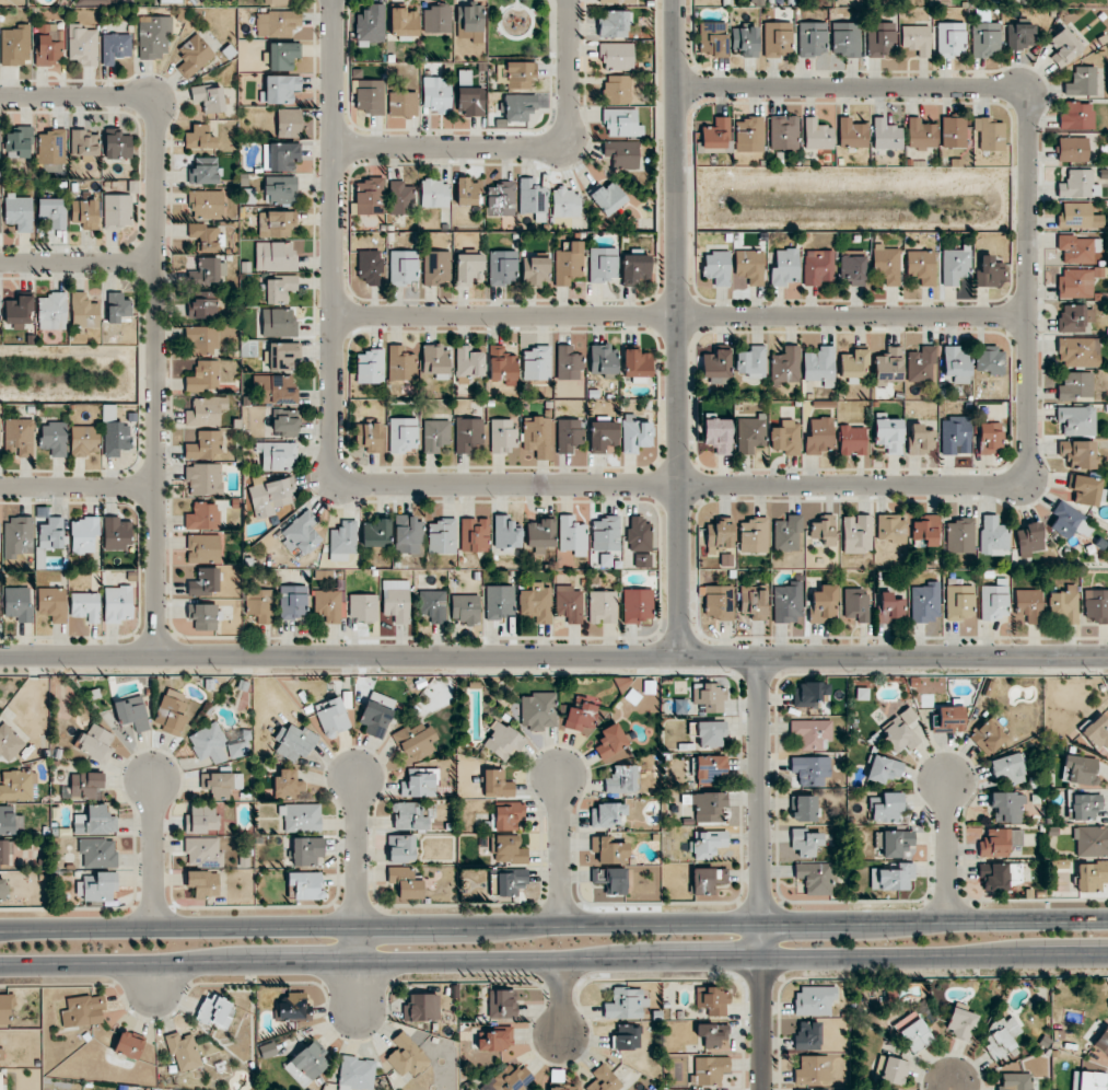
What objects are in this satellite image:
building: (170, 1)
building: (277, 1)
building: (615, 1)
road: (517, 2)
road: (504, 9)
building: (469, 18)
building: (436, 19)
building: (401, 21)
building: (277, 23)
building: (614, 23)
building: (371, 25)
park: (522, 27)
building: (1020, 35)
building: (154, 37)
building: (712, 38)
building: (812, 38)
building: (845, 38)
building: (880, 38)
building: (777, 39)
building: (915, 39)
building: (950, 39)
building: (985, 39)
building: (745, 40)
building: (49, 44)
building: (15, 45)
building: (82, 46)
building: (1064, 46)
building: (115, 47)
building: (194, 56)
building: (282, 56)
building: (616, 56)
building: (520, 74)
building: (1082, 81)
building: (280, 89)
building: (617, 89)
building: (435, 94)
road: (78, 95)
building: (370, 96)
building: (209, 97)
building: (469, 102)
building: (401, 103)
building: (517, 106)
building: (1076, 116)
building: (289, 123)
building: (621, 123)
building: (783, 131)
building: (953, 132)
building: (715, 134)
building: (748, 134)
building: (851, 134)
building: (920, 134)
building: (989, 134)
building: (817, 135)
building: (886, 135)
building: (199, 138)
building: (20, 141)
building: (84, 144)
building: (117, 144)
road: (524, 147)
building: (1072, 149)
building: (51, 150)
building: (622, 153)
building: (280, 155)
building: (203, 171)
building: (1077, 184)
building: (280, 190)
building: (464, 192)
building: (433, 193)
building: (369, 196)
building: (532, 196)
building: (607, 197)
building: (401, 198)
building: (500, 199)
building: (565, 202)
building: (207, 204)
building: (53, 211)
building: (117, 211)
building: (19, 212)
building: (85, 213)
building: (1077, 216)
building: (276, 223)
building: (206, 236)
building: (1075, 248)
building: (276, 256)
road: (78, 262)
building: (568, 263)
building: (602, 264)
building: (886, 264)
building: (955, 265)
building: (369, 266)
building: (749, 266)
building: (852, 266)
building: (921, 266)
building: (403, 267)
building: (435, 267)
building: (469, 267)
building: (502, 267)
building: (716, 267)
building: (784, 267)
building: (817, 267)
building: (634, 268)
building: (534, 270)
building: (208, 271)
building: (989, 272)
building: (1076, 282)
road: (1027, 283)
building: (279, 289)
building: (203, 305)
building: (117, 308)
building: (19, 311)
building: (53, 311)
building: (84, 311)
road: (679, 315)
building: (1074, 317)
building: (279, 323)
road: (678, 327)
building: (202, 339)
building: (1078, 351)
building: (281, 356)
building: (602, 359)
building: (434, 360)
building: (990, 360)
building: (751, 361)
building: (567, 362)
building: (399, 363)
building: (467, 363)
building: (536, 363)
building: (956, 363)
building: (501, 364)
building: (785, 364)
building: (853, 364)
building: (921, 364)
building: (635, 366)
building: (715, 366)
building: (820, 366)
building: (370, 367)
building: (888, 367)
road: (155, 375)
building: (203, 376)
building: (1075, 385)
building: (282, 390)
building: (206, 411)
road: (333, 416)
building: (1076, 420)
building: (285, 421)
building: (114, 433)
building: (466, 433)
building: (634, 433)
building: (749, 433)
building: (403, 434)
building: (434, 434)
building: (502, 434)
building: (568, 434)
building: (718, 434)
building: (888, 434)
building: (955, 434)
building: (603, 436)
building: (819, 436)
building: (19, 437)
building: (368, 437)
building: (537, 437)
building: (989, 437)
building: (54, 438)
building: (785, 438)
building: (920, 439)
building: (83, 440)
building: (851, 440)
building: (205, 445)
building: (1078, 454)
building: (277, 455)
building: (205, 479)
road: (78, 487)
building: (1083, 489)
building: (270, 496)
building: (202, 517)
building: (1069, 521)
building: (891, 529)
building: (823, 530)
building: (926, 531)
building: (53, 532)
building: (374, 532)
building: (301, 533)
building: (539, 533)
building: (605, 533)
building: (786, 533)
building: (856, 533)
building: (116, 534)
building: (407, 534)
building: (474, 534)
building: (84, 535)
building: (572, 535)
building: (719, 535)
building: (753, 535)
building: (959, 535)
building: (18, 536)
building: (441, 536)
building: (993, 536)
building: (342, 541)
building: (639, 541)
building: (203, 548)
building: (605, 560)
building: (205, 581)
building: (395, 600)
building: (499, 601)
building: (754, 601)
building: (994, 601)
building: (293, 602)
building: (719, 602)
building: (960, 602)
building: (536, 603)
building: (569, 603)
building: (788, 603)
building: (823, 603)
building: (925, 603)
building: (18, 604)
building: (53, 604)
building: (117, 604)
building: (1063, 604)
building: (259, 605)
building: (328, 605)
building: (433, 605)
building: (637, 605)
building: (856, 605)
building: (1029, 605)
building: (1096, 605)
building: (85, 606)
building: (602, 606)
building: (362, 607)
building: (889, 607)
building: (465, 608)
building: (202, 616)
road: (553, 656)
building: (809, 694)
building: (710, 698)
building: (171, 711)
building: (538, 711)
building: (131, 712)
building: (376, 714)
building: (579, 716)
building: (333, 717)
building: (949, 718)
building: (900, 731)
building: (1097, 731)
building: (710, 733)
building: (812, 733)
building: (987, 737)
building: (502, 740)
building: (415, 741)
building: (610, 741)
building: (293, 742)
building: (95, 743)
building: (209, 744)
building: (710, 768)
building: (883, 768)
building: (1006, 769)
building: (1080, 769)
building: (810, 770)
building: (622, 779)
building: (419, 782)
building: (85, 784)
building: (495, 784)
building: (217, 785)
building: (288, 785)
building: (1085, 805)
building: (709, 807)
building: (1006, 807)
building: (804, 808)
building: (887, 808)
building: (607, 814)
building: (408, 816)
building: (506, 816)
building: (301, 817)
building: (7, 820)
building: (201, 820)
building: (95, 821)
building: (1090, 840)
building: (894, 842)
building: (999, 842)
building: (707, 843)
building: (805, 843)
building: (400, 848)
road: (562, 848)
building: (505, 849)
building: (306, 850)
building: (607, 850)
building: (2, 851)
road: (948, 851)
building: (98, 853)
building: (203, 853)
road: (155, 856)
road: (761, 872)
building: (999, 876)
building: (1092, 876)
building: (893, 877)
building: (815, 878)
building: (708, 879)
building: (610, 880)
building: (405, 882)
building: (511, 882)
building: (203, 883)
building: (306, 885)
building: (95, 886)
building: (3, 889)
road: (357, 894)
road: (553, 926)
road: (553, 962)
road: (154, 981)
road: (562, 999)
building: (814, 1000)
building: (713, 1001)
building: (501, 1004)
building: (625, 1004)
building: (421, 1007)
building: (293, 1008)
building: (4, 1009)
building: (211, 1009)
building: (83, 1011)
building: (960, 1023)
building: (912, 1032)
building: (713, 1035)
building: (807, 1035)
building: (626, 1036)
building: (1002, 1036)
building: (495, 1040)
building: (1101, 1041)
building: (128, 1045)
building: (183, 1051)
building: (406, 1056)
building: (307, 1064)
building: (710, 1069)
building: (812, 1069)
building: (891, 1070)
building: (357, 1074)
building: (511, 1079)
building: (0, 1080)
building: (604, 1080)
building: (1016, 1081)
building: (1092, 1081)
building: (561, 1087)
road: (954, 1088)
building: (821, 1089)

